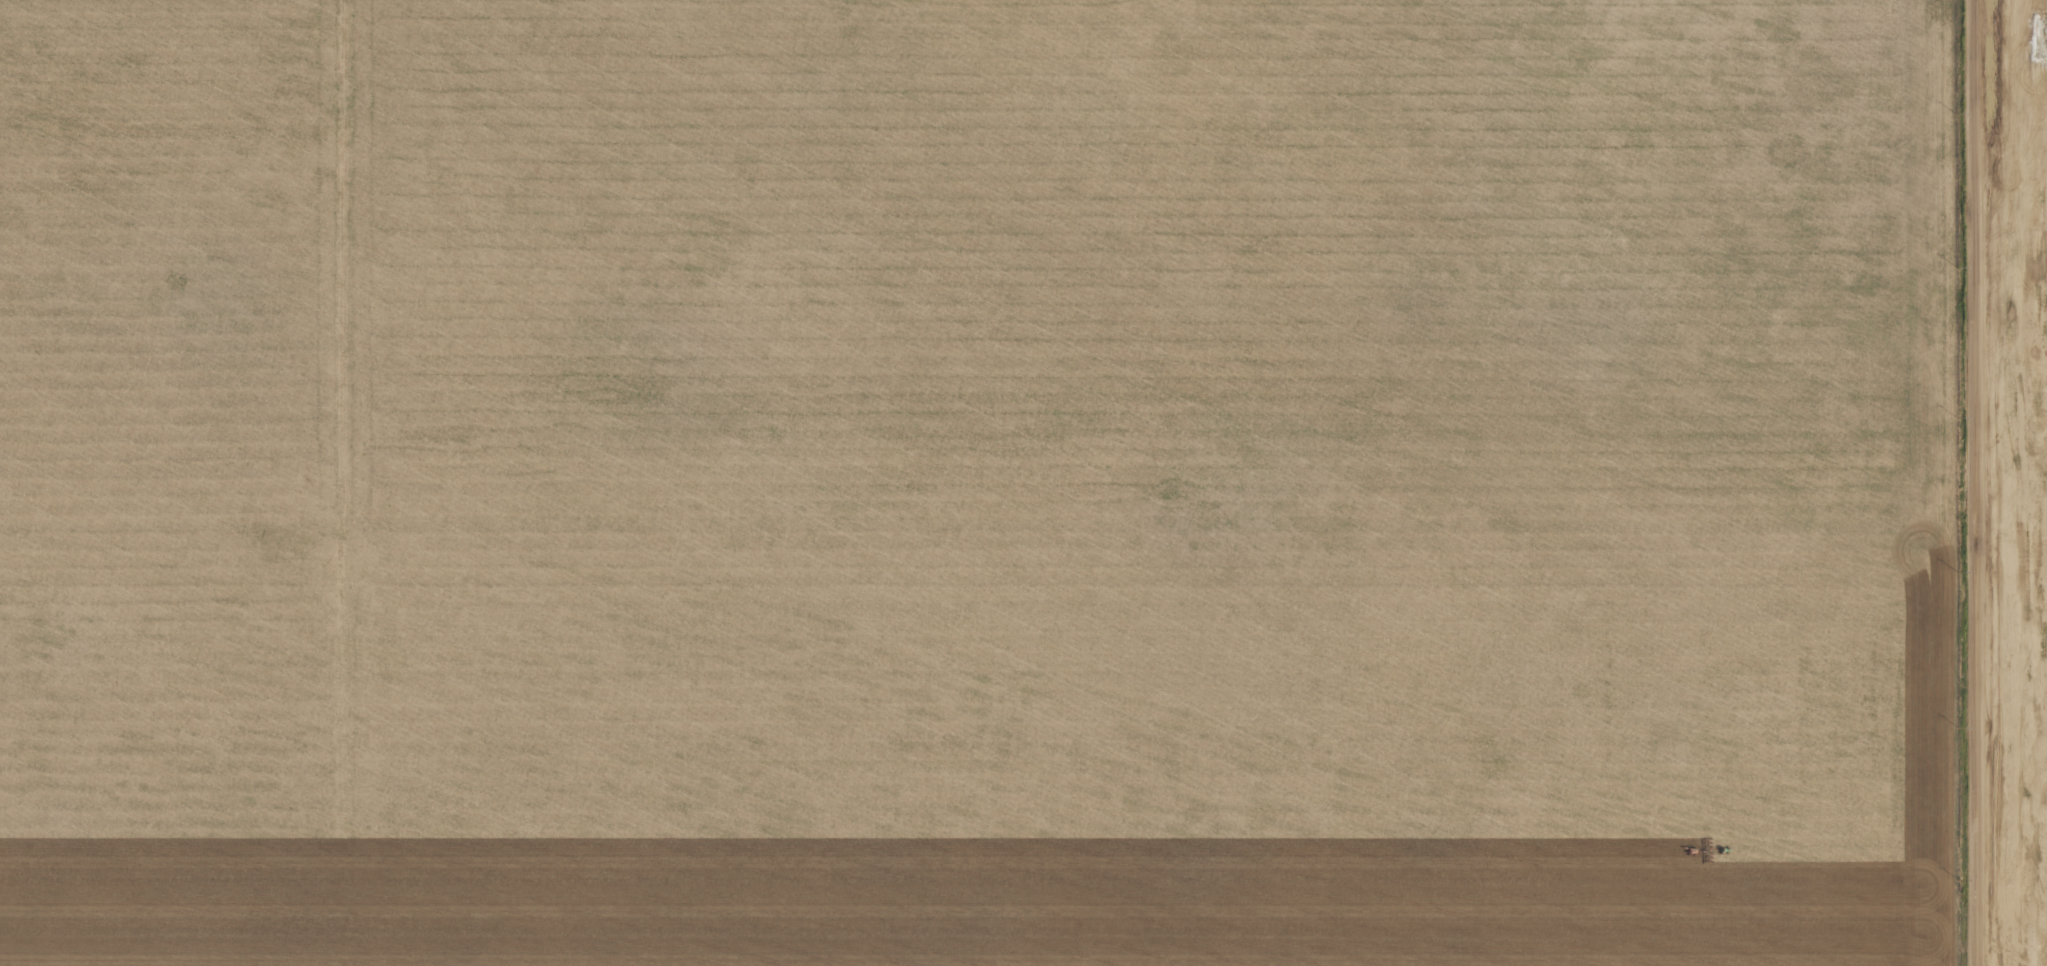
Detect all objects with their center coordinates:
road: (1975, 482)

